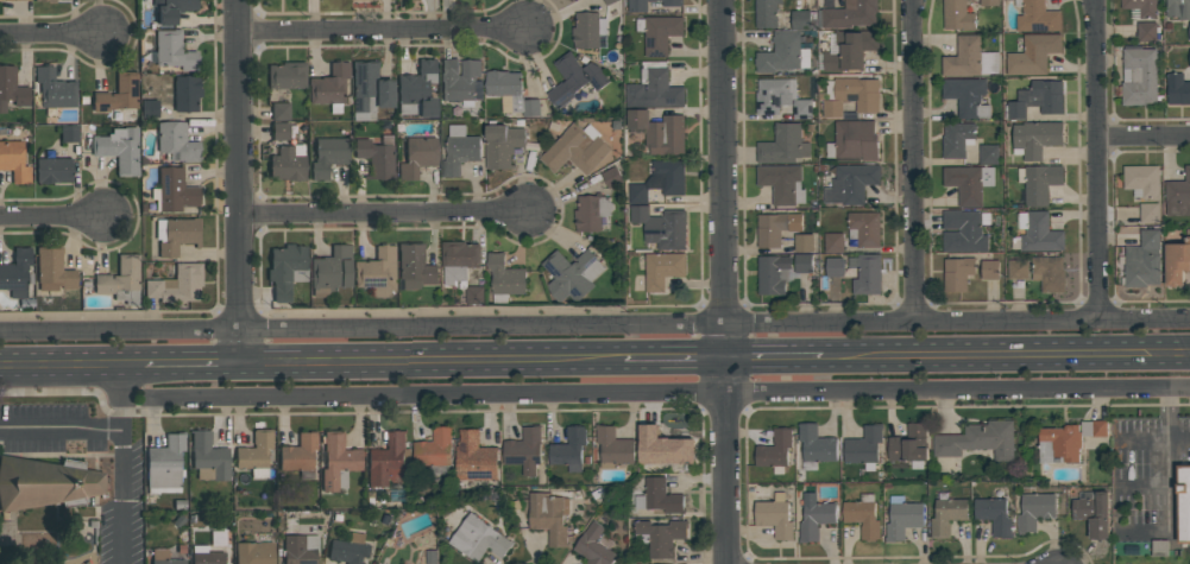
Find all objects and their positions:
building: (46, 0)
building: (571, 0)
building: (609, 1)
building: (989, 2)
building: (1141, 7)
building: (638, 8)
building: (172, 9)
building: (1178, 9)
building: (766, 13)
building: (850, 14)
building: (957, 15)
building: (1035, 17)
building: (802, 20)
building: (588, 31)
building: (1146, 32)
building: (1189, 32)
building: (659, 33)
road: (385, 34)
road: (49, 37)
building: (174, 50)
building: (850, 50)
building: (783, 53)
building: (1033, 55)
building: (1189, 58)
building: (969, 59)
building: (287, 75)
building: (1139, 76)
building: (574, 78)
building: (460, 81)
building: (330, 85)
building: (12, 88)
building: (654, 88)
building: (55, 89)
building: (1177, 89)
building: (370, 90)
building: (417, 90)
building: (187, 93)
building: (510, 93)
building: (118, 94)
building: (852, 96)
building: (967, 96)
building: (781, 99)
building: (1038, 99)
building: (149, 108)
building: (279, 110)
building: (283, 131)
building: (660, 132)
building: (69, 133)
road: (1144, 137)
building: (1035, 139)
building: (854, 140)
building: (957, 140)
building: (177, 142)
building: (502, 144)
building: (783, 145)
building: (120, 148)
building: (575, 150)
building: (459, 151)
building: (989, 154)
building: (328, 156)
building: (417, 156)
building: (376, 158)
road: (1097, 159)
building: (14, 160)
road: (909, 160)
building: (289, 163)
building: (53, 170)
building: (611, 177)
road: (244, 180)
building: (660, 180)
building: (1142, 180)
building: (969, 183)
building: (1039, 183)
building: (782, 184)
building: (851, 184)
building: (175, 190)
building: (1178, 196)
building: (591, 211)
building: (1148, 213)
road: (385, 215)
road: (53, 221)
building: (662, 227)
building: (775, 228)
building: (864, 229)
building: (964, 230)
building: (1040, 234)
building: (178, 235)
building: (833, 242)
building: (804, 243)
building: (459, 260)
building: (1142, 261)
building: (1177, 262)
building: (802, 264)
building: (415, 266)
building: (835, 266)
building: (53, 270)
building: (287, 270)
building: (662, 270)
building: (989, 270)
building: (1018, 270)
building: (332, 271)
building: (378, 272)
building: (17, 273)
building: (957, 273)
building: (572, 274)
building: (772, 274)
building: (867, 274)
building: (1049, 274)
building: (121, 279)
building: (504, 279)
road: (723, 281)
building: (177, 284)
building: (476, 296)
road: (594, 324)
road: (1005, 354)
road: (773, 357)
road: (673, 359)
road: (434, 361)
road: (195, 362)
road: (71, 365)
road: (670, 394)
road: (117, 398)
road: (119, 437)
building: (977, 441)
building: (1066, 441)
building: (817, 444)
building: (909, 445)
building: (864, 446)
building: (613, 448)
building: (434, 449)
building: (569, 449)
building: (663, 449)
building: (775, 449)
building: (524, 451)
building: (298, 452)
building: (256, 454)
building: (209, 457)
building: (338, 458)
building: (474, 458)
building: (389, 460)
road: (1169, 462)
building: (165, 464)
building: (46, 483)
building: (661, 496)
building: (1183, 503)
building: (1034, 512)
building: (1093, 512)
building: (947, 515)
building: (994, 515)
building: (548, 517)
building: (775, 517)
building: (814, 517)
building: (863, 517)
building: (902, 519)
building: (660, 536)
building: (478, 539)
building: (594, 546)
building: (300, 549)
building: (348, 549)
building: (254, 552)
building: (164, 557)
building: (207, 557)

